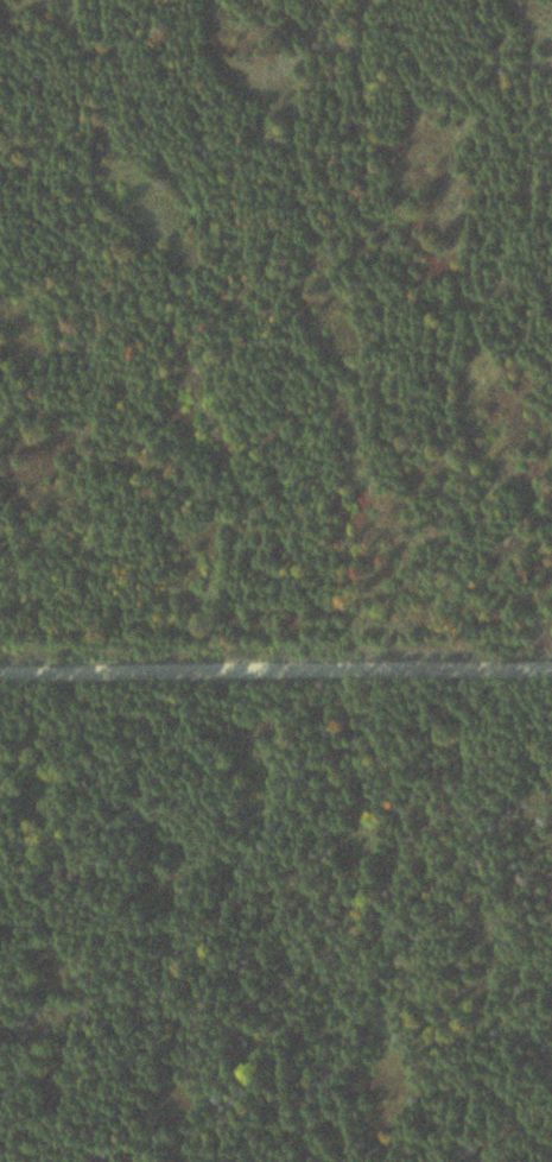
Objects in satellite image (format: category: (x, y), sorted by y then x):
road: (275, 662)

